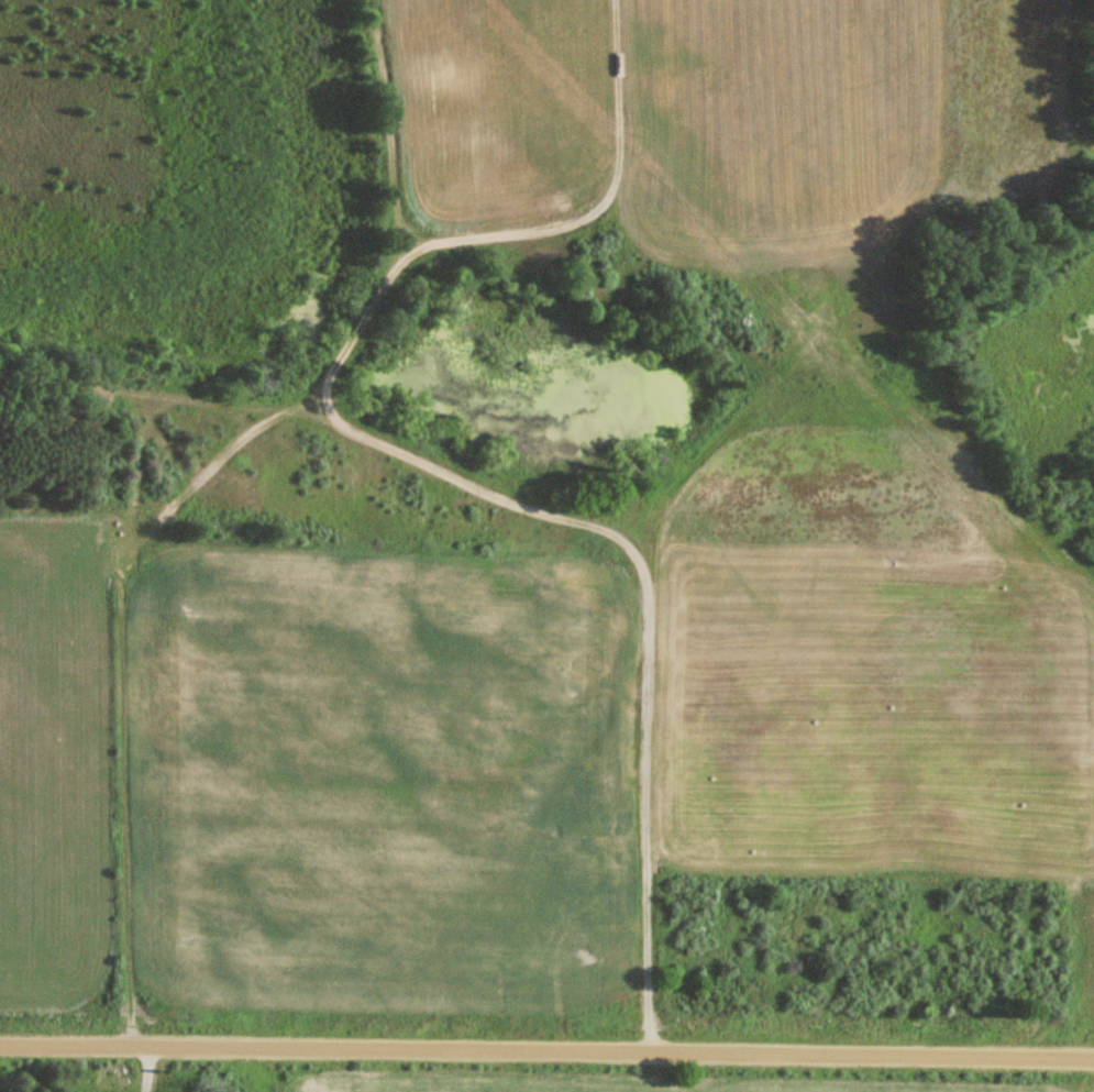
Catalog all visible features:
road: (501, 486)
road: (546, 1051)

